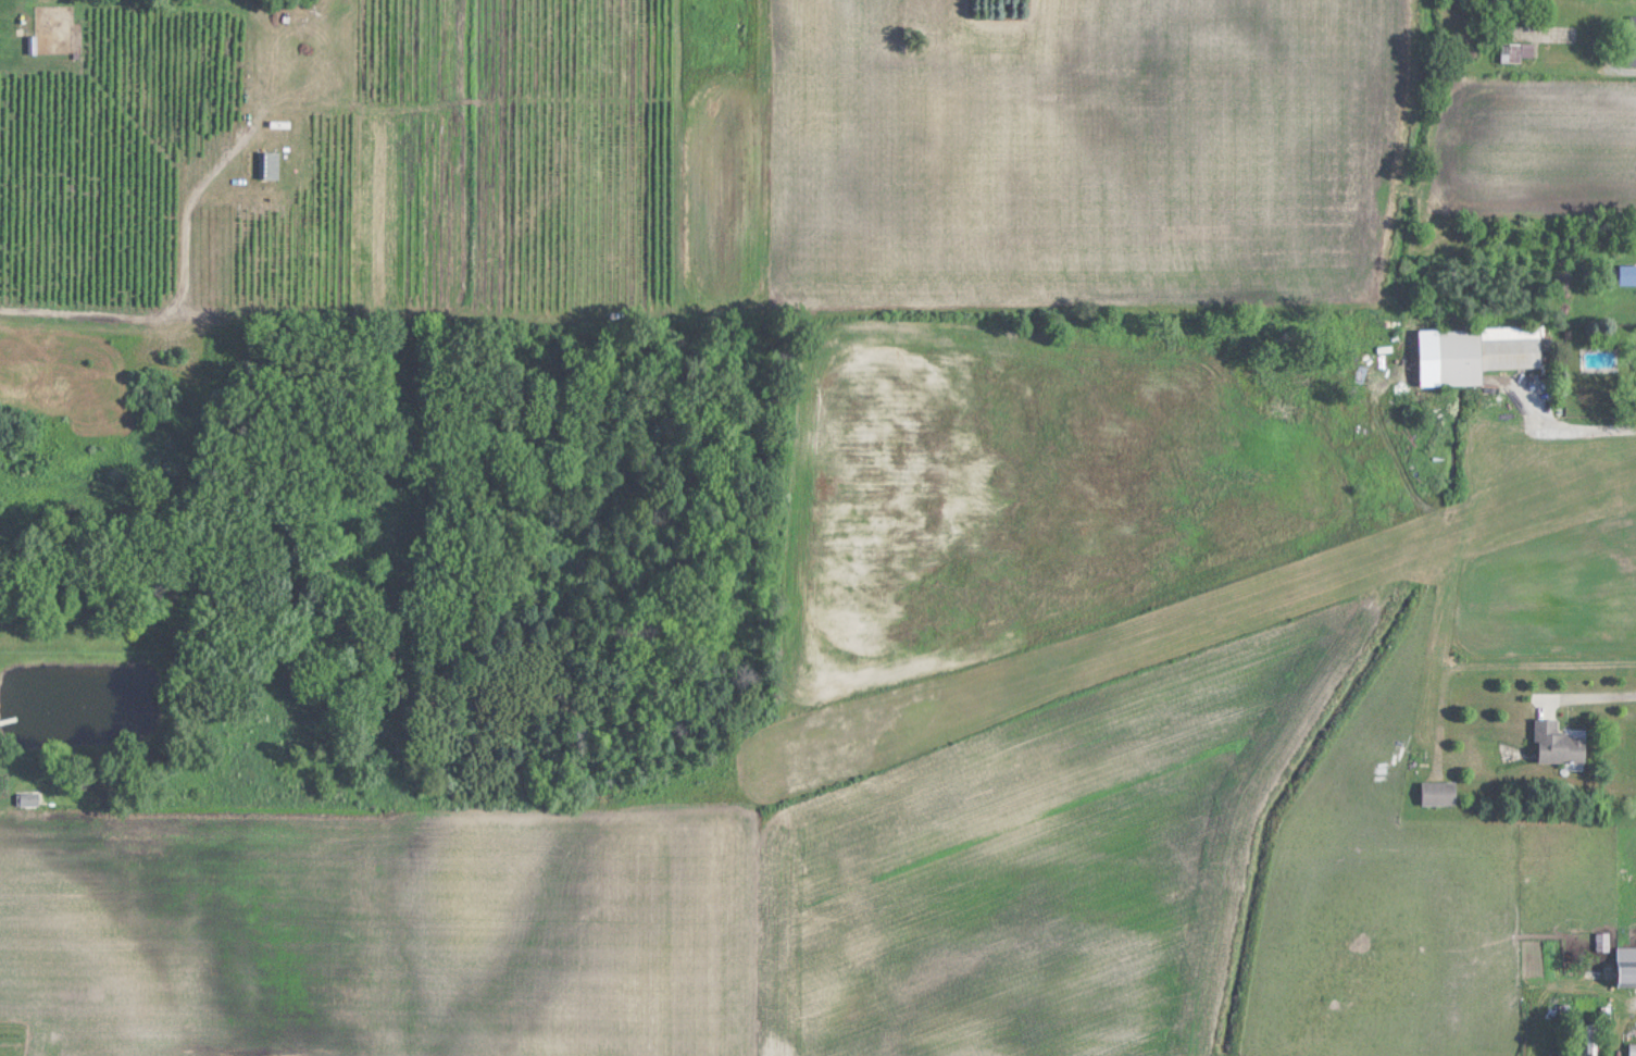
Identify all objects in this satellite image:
building: (1632, 28)
building: (1518, 51)
building: (1633, 54)
building: (268, 165)
building: (1486, 351)
road: (1568, 425)
road: (1590, 694)
building: (1558, 744)
building: (1439, 794)
building: (29, 802)
building: (1627, 966)
building: (1593, 1038)
building: (1633, 1048)

